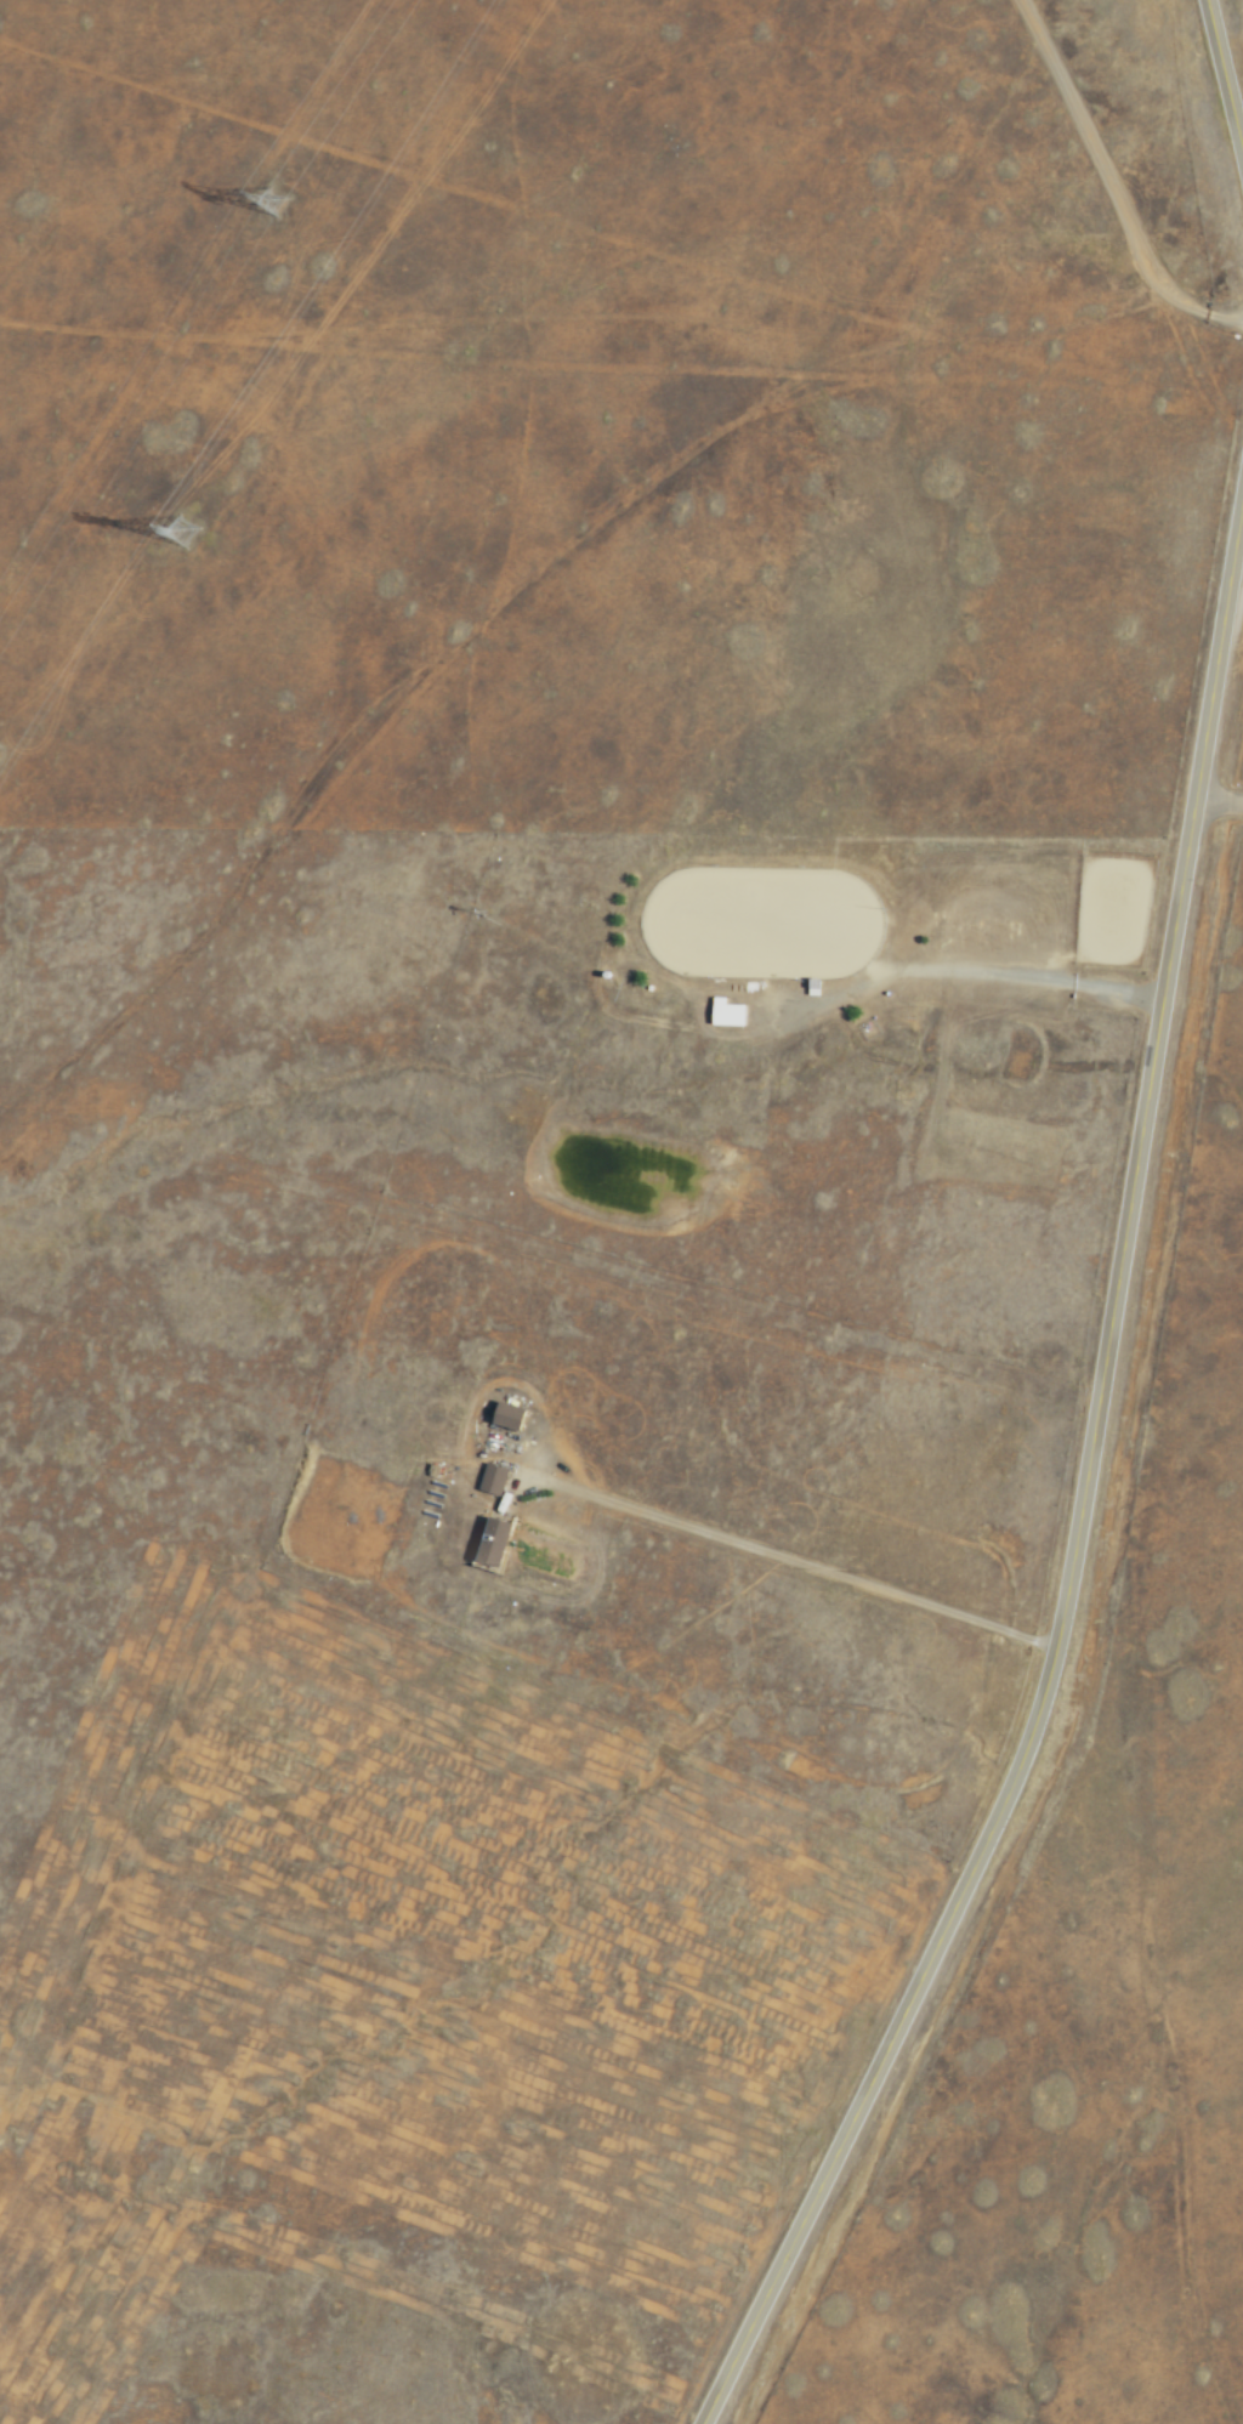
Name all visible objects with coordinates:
road: (1221, 92)
power tower: (277, 192)
power tower: (187, 529)
road: (1218, 800)
building: (505, 1415)
building: (490, 1478)
road: (1078, 1491)
building: (490, 1542)

